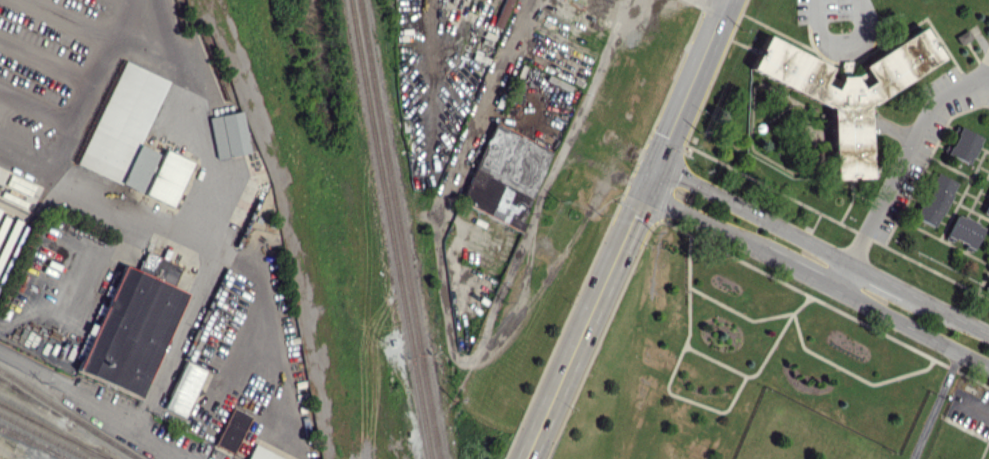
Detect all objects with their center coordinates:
road: (717, 2)
building: (501, 13)
road: (821, 20)
road: (854, 32)
road: (689, 80)
road: (91, 83)
building: (844, 91)
road: (486, 101)
road: (194, 119)
building: (124, 127)
building: (228, 134)
building: (962, 145)
traffic signals: (655, 161)
road: (903, 172)
building: (505, 175)
road: (648, 176)
building: (167, 177)
traffic signals: (642, 192)
building: (932, 198)
building: (986, 207)
railway: (390, 229)
railway: (399, 229)
railway: (645, 230)
building: (963, 230)
road: (185, 241)
road: (821, 247)
road: (513, 259)
building: (0, 262)
road: (816, 277)
building: (987, 287)
building: (132, 325)
road: (579, 325)
building: (183, 388)
road: (91, 401)
road: (934, 404)
railway: (69, 414)
road: (979, 416)
building: (231, 429)
railway: (55, 430)
railway: (44, 436)
railway: (34, 441)
railway: (33, 444)
building: (261, 454)
road: (173, 457)

